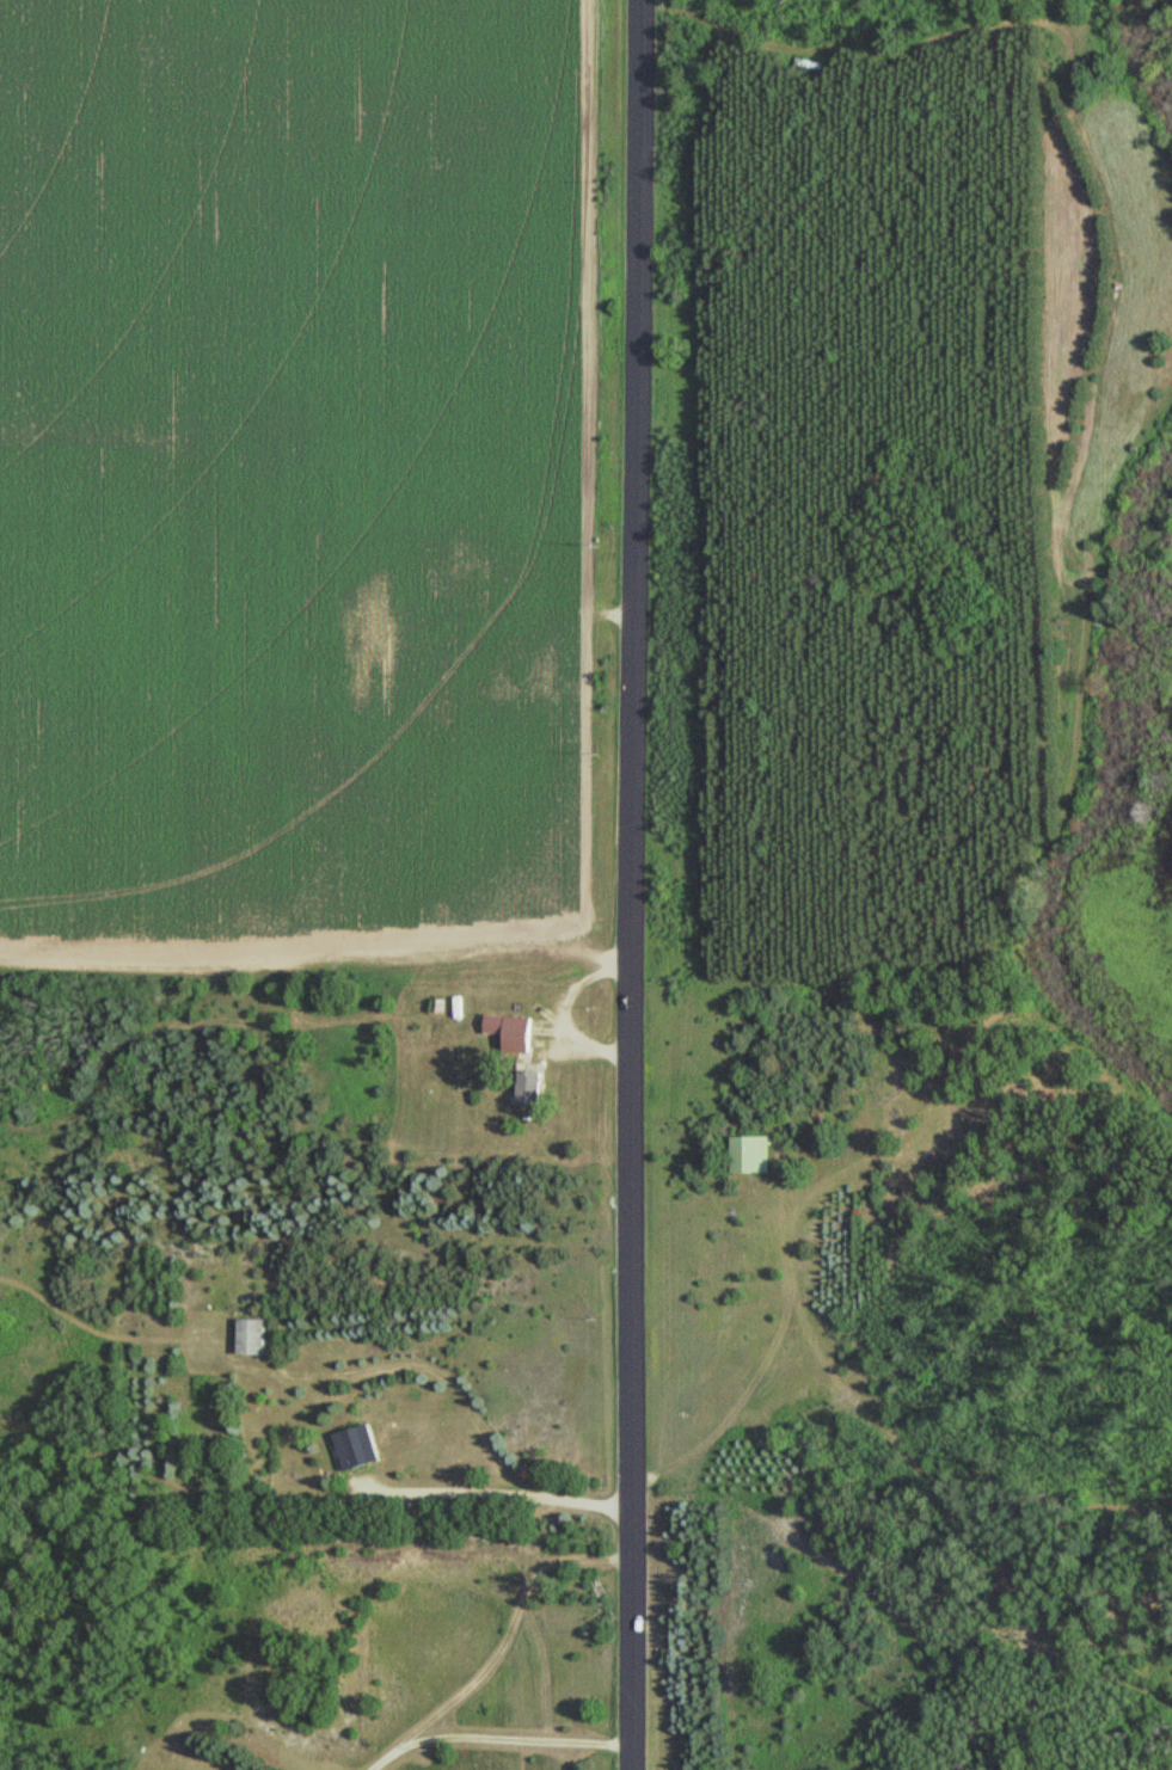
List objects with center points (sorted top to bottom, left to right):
road: (628, 884)
building: (511, 1032)
building: (529, 1087)
building: (745, 1153)
building: (250, 1335)
building: (356, 1446)
road: (480, 1491)
road: (496, 1648)
road: (511, 1739)

